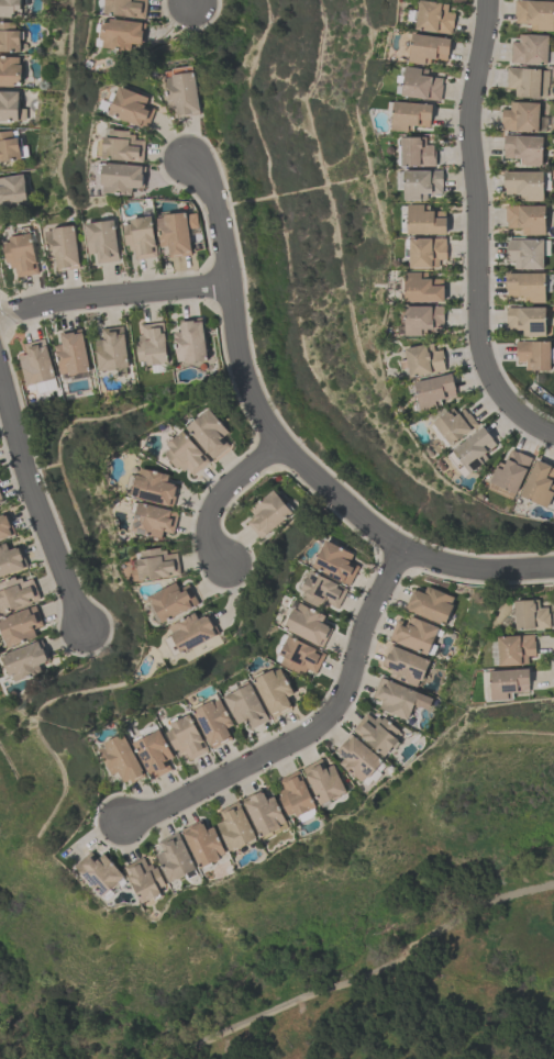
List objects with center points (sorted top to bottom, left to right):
road: (192, 1)
building: (10, 7)
building: (126, 8)
building: (535, 14)
building: (435, 18)
building: (122, 33)
building: (9, 37)
building: (429, 49)
building: (530, 49)
building: (10, 70)
building: (523, 81)
building: (421, 85)
building: (184, 93)
building: (10, 105)
building: (132, 108)
building: (411, 116)
building: (521, 116)
building: (9, 146)
building: (123, 147)
building: (524, 148)
building: (418, 153)
building: (122, 178)
building: (422, 185)
building: (525, 185)
building: (13, 190)
building: (527, 219)
building: (426, 221)
building: (177, 233)
road: (474, 234)
building: (141, 237)
building: (102, 241)
building: (63, 247)
building: (426, 253)
building: (525, 253)
building: (21, 254)
building: (527, 287)
building: (423, 288)
road: (113, 298)
building: (423, 320)
building: (528, 320)
building: (189, 341)
building: (152, 343)
building: (111, 348)
building: (71, 352)
building: (533, 354)
building: (424, 360)
building: (35, 361)
building: (435, 391)
building: (456, 425)
building: (209, 433)
building: (476, 449)
building: (186, 453)
road: (285, 453)
building: (511, 469)
building: (539, 482)
building: (152, 487)
building: (1, 497)
road: (218, 499)
road: (35, 506)
building: (267, 513)
building: (153, 519)
building: (5, 525)
building: (11, 558)
building: (336, 561)
building: (155, 564)
building: (322, 589)
building: (16, 592)
building: (171, 600)
building: (430, 604)
building: (530, 614)
building: (308, 623)
building: (20, 624)
building: (191, 631)
building: (413, 633)
building: (514, 648)
building: (300, 655)
building: (24, 659)
building: (405, 664)
building: (508, 681)
building: (274, 689)
building: (398, 698)
building: (245, 705)
building: (213, 720)
road: (314, 729)
building: (377, 732)
building: (187, 736)
building: (153, 753)
building: (357, 756)
building: (121, 757)
building: (324, 779)
building: (296, 793)
building: (264, 811)
building: (235, 825)
building: (203, 843)
building: (175, 857)
building: (99, 870)
building: (145, 878)
park: (314, 941)
road: (366, 977)

